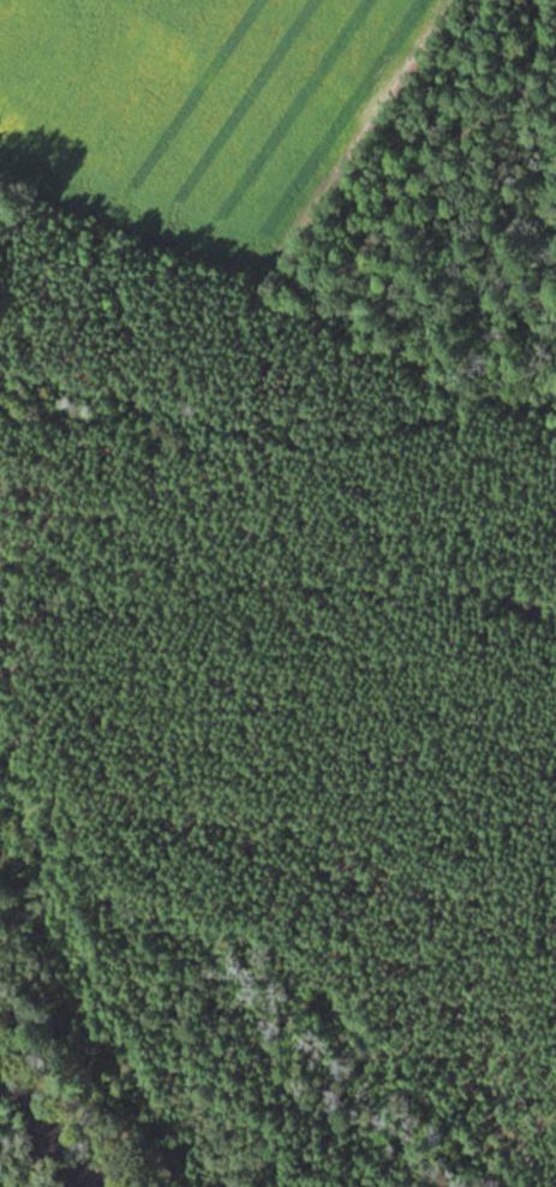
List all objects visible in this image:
river: (44, 1110)

